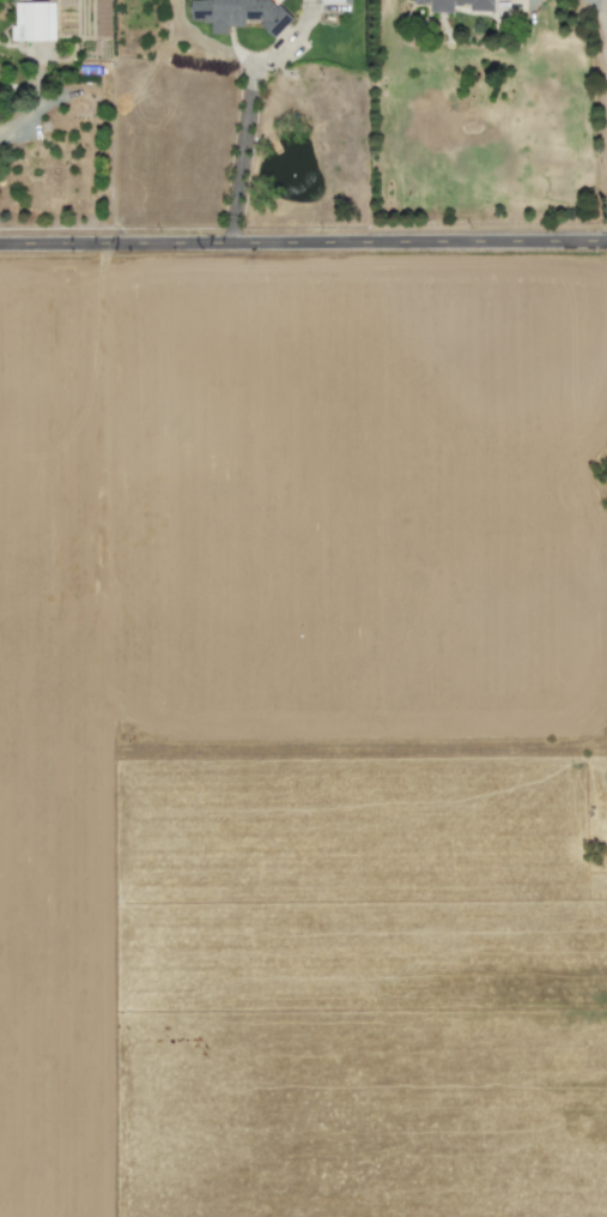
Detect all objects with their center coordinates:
building: (330, 1)
building: (480, 8)
building: (238, 14)
building: (34, 22)
road: (603, 65)
road: (14, 126)
road: (241, 153)
road: (303, 243)

